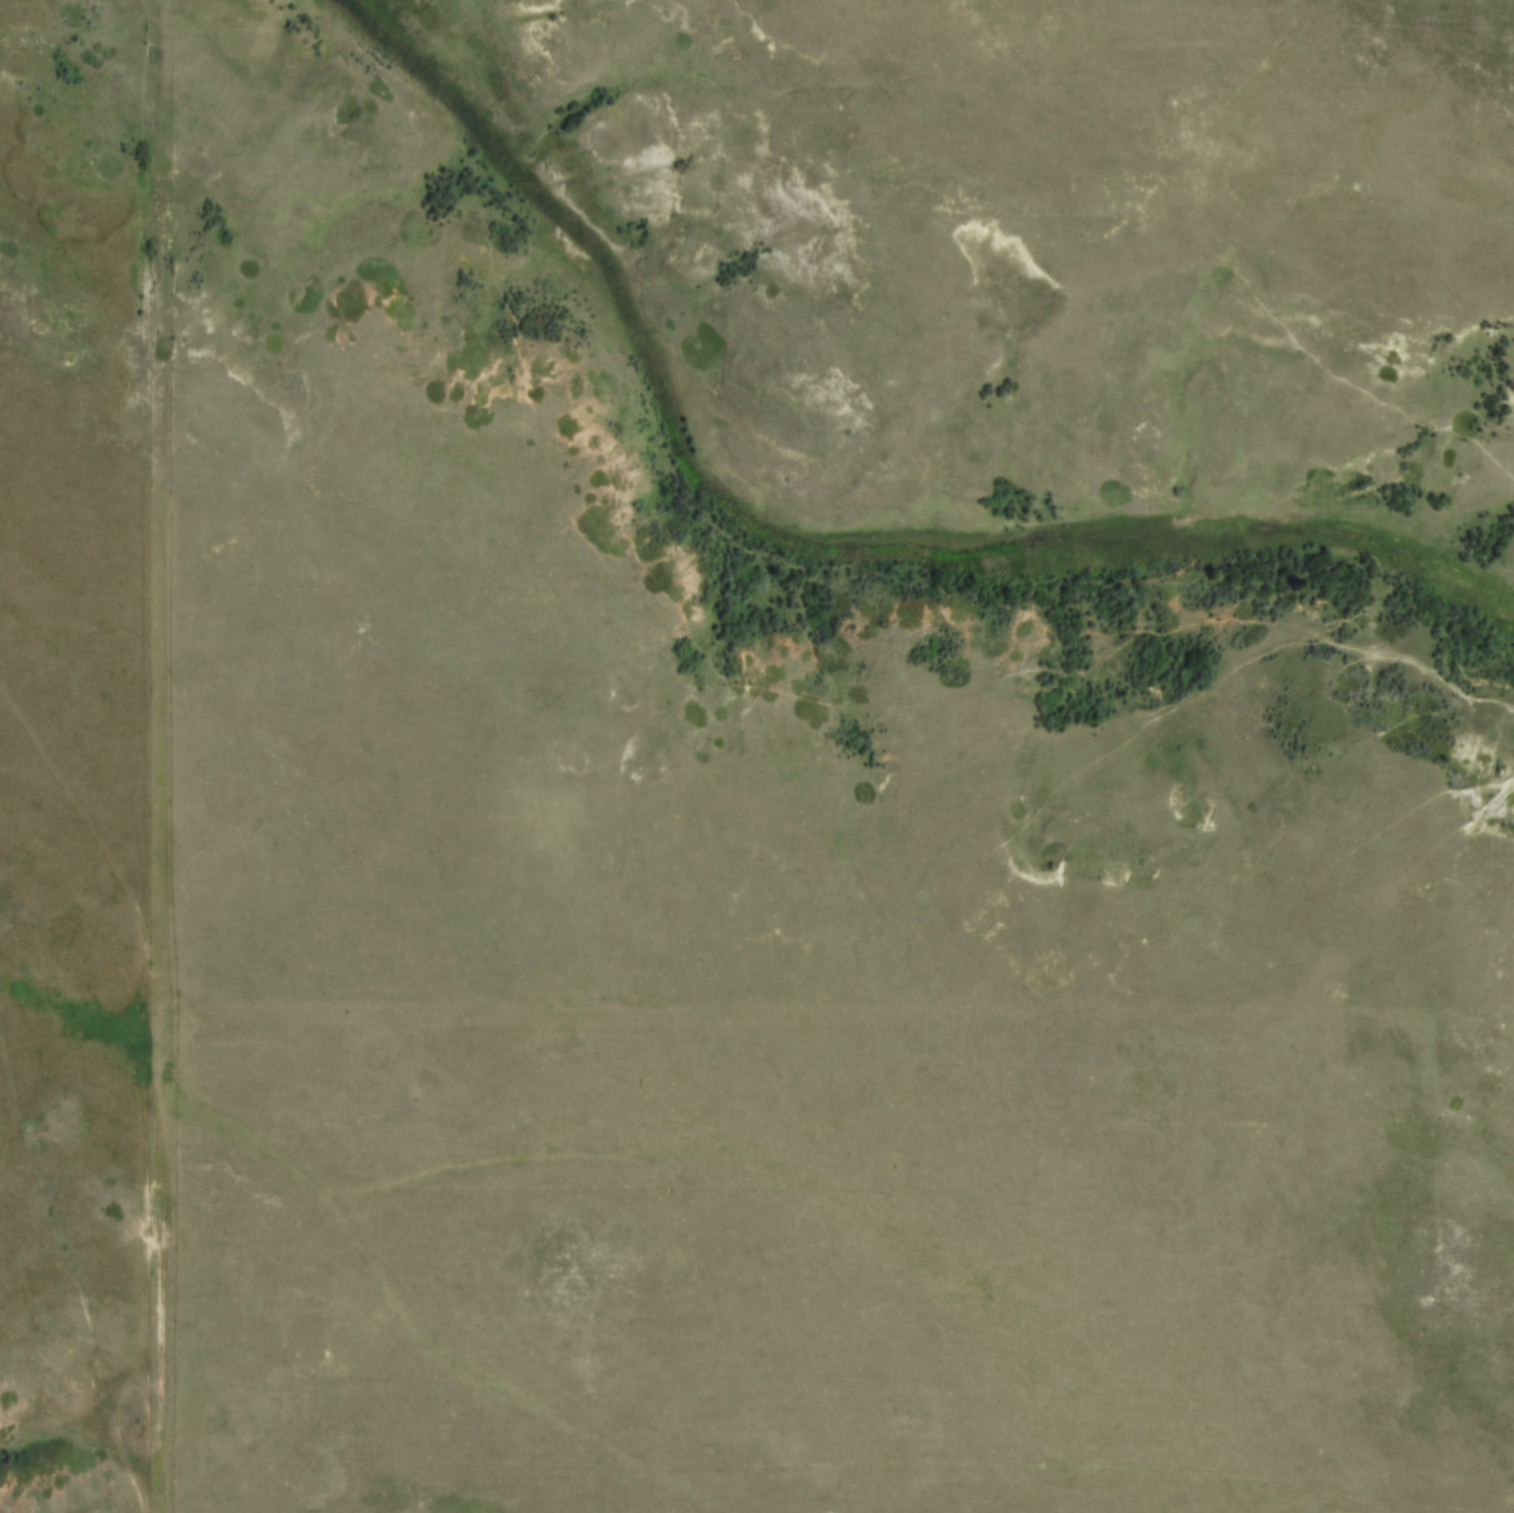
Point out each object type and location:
road: (150, 473)
road: (154, 1076)

